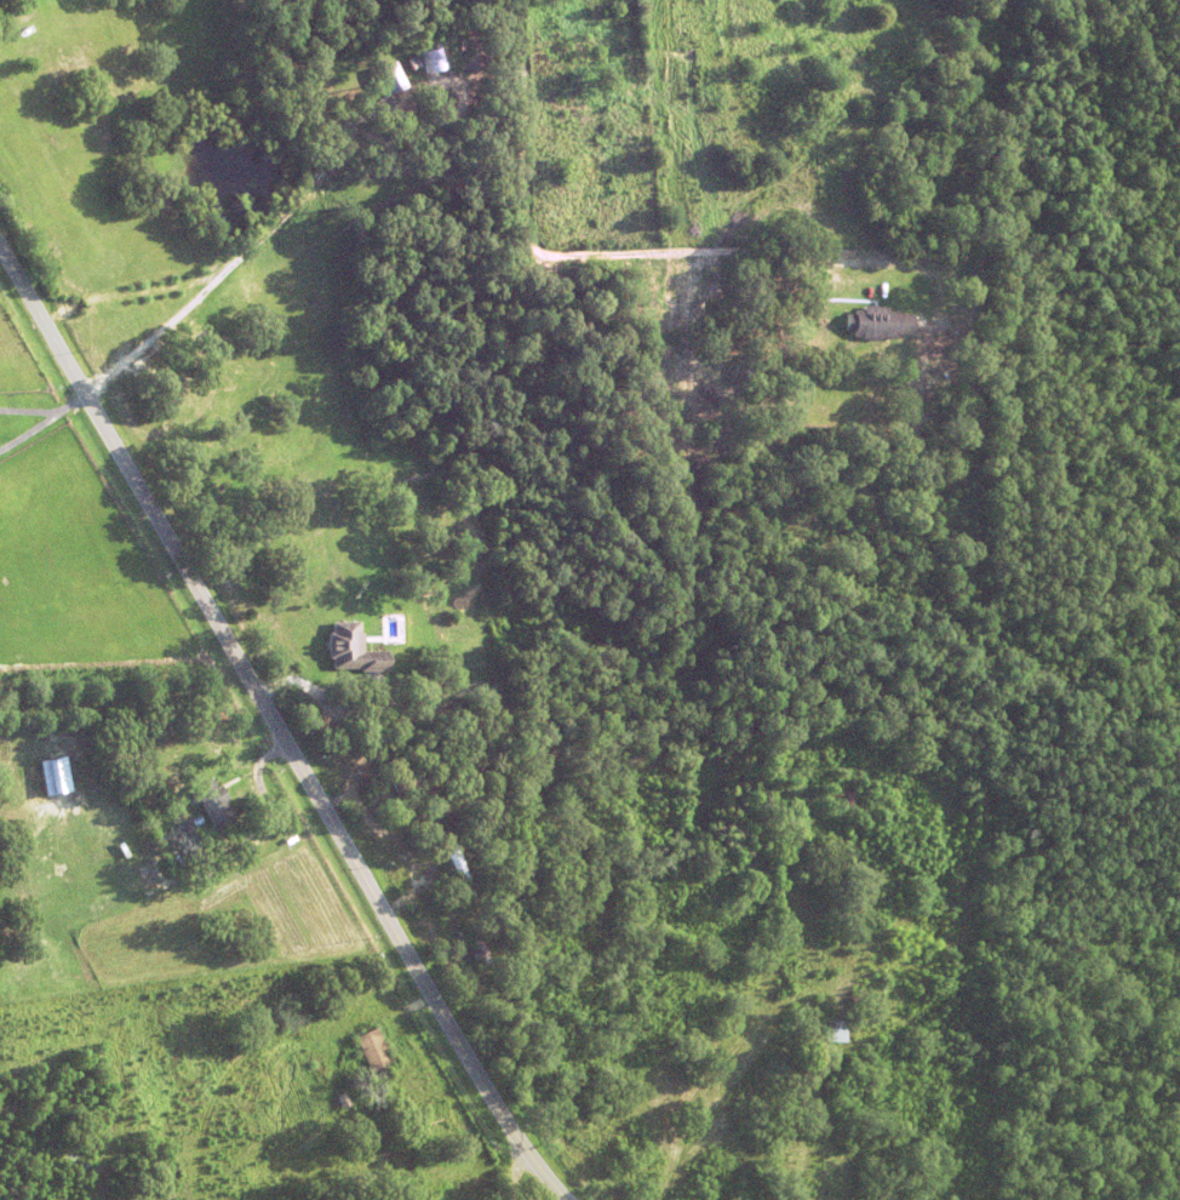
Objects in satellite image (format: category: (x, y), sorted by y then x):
building: (11, 4)
building: (389, 78)
building: (414, 84)
building: (743, 315)
building: (881, 322)
building: (346, 396)
building: (353, 651)
building: (315, 659)
road: (277, 727)
building: (196, 766)
building: (52, 775)
building: (397, 781)
building: (844, 796)
building: (214, 802)
building: (185, 836)
building: (459, 870)
building: (598, 898)
building: (480, 944)
building: (363, 1024)
building: (836, 1029)
building: (374, 1050)

